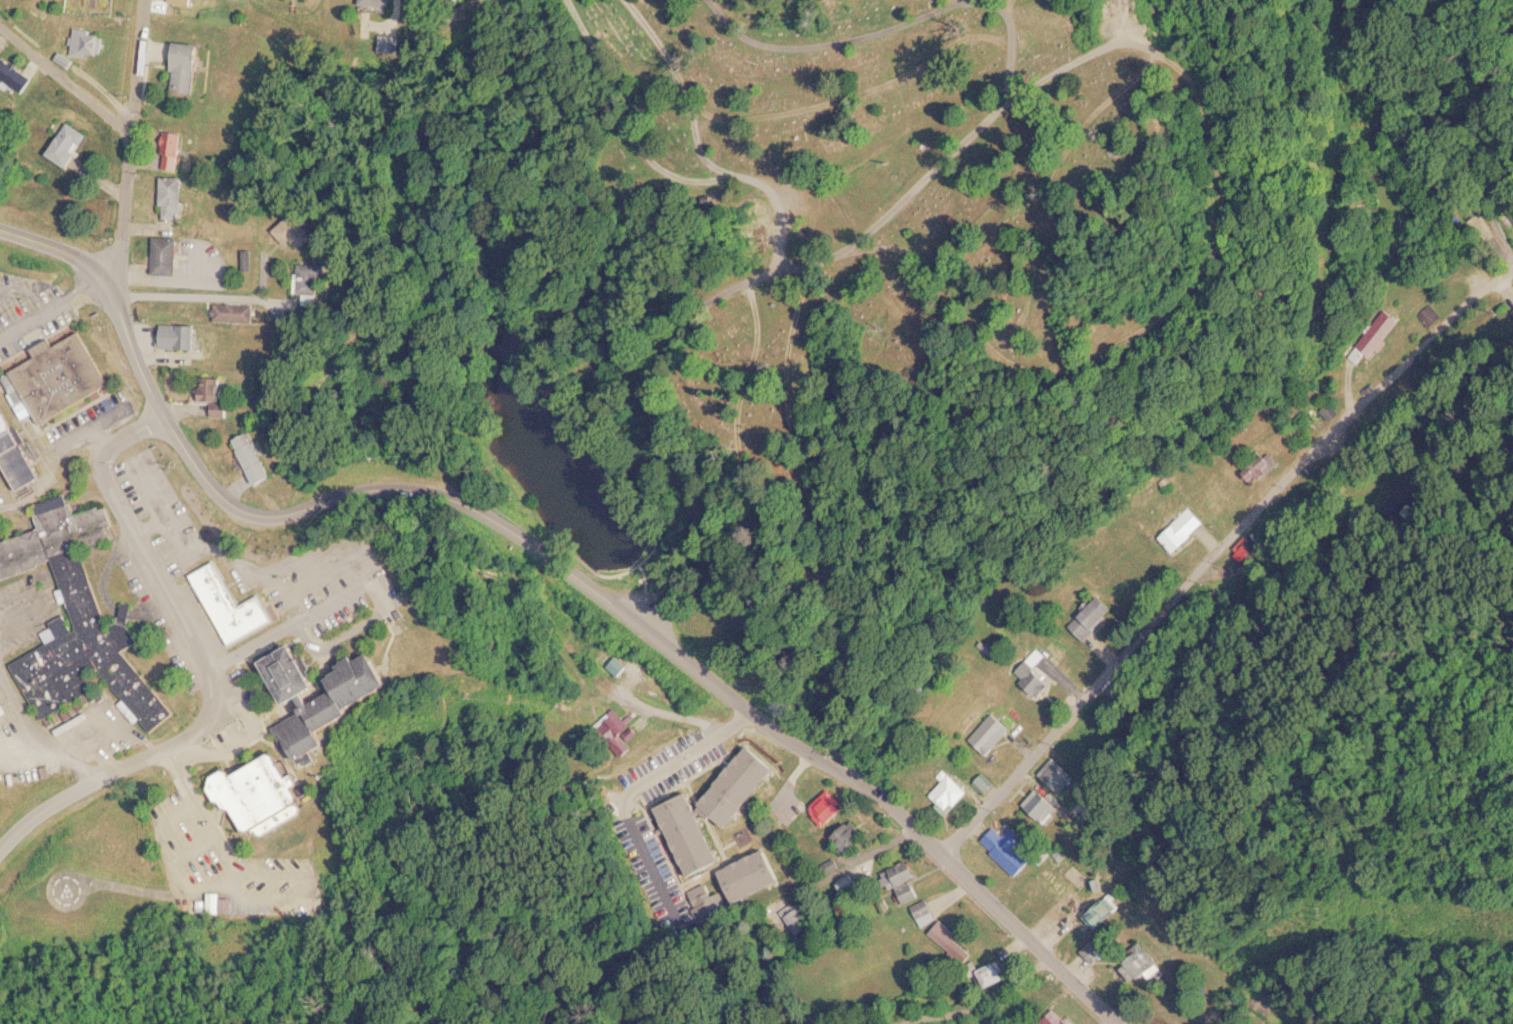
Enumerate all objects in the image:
building: (186, 2)
building: (377, 3)
building: (88, 43)
building: (190, 69)
building: (15, 75)
road: (68, 84)
road: (137, 139)
building: (69, 145)
building: (174, 151)
road: (890, 211)
building: (1512, 211)
road: (241, 215)
building: (296, 232)
road: (52, 248)
building: (166, 256)
building: (313, 283)
park: (889, 286)
road: (51, 306)
building: (238, 314)
building: (1430, 316)
building: (181, 336)
building: (1381, 339)
building: (56, 376)
building: (257, 458)
building: (1263, 469)
building: (1216, 495)
building: (1182, 530)
road: (1213, 563)
road: (600, 593)
building: (232, 606)
building: (1092, 617)
building: (77, 618)
road: (531, 640)
road: (209, 661)
building: (618, 665)
building: (1034, 672)
building: (326, 695)
building: (2, 709)
building: (615, 724)
road: (40, 730)
building: (991, 733)
building: (986, 783)
building: (953, 793)
building: (260, 795)
building: (1041, 805)
building: (829, 807)
building: (716, 809)
building: (849, 836)
building: (1008, 848)
road: (804, 862)
building: (750, 876)
building: (903, 881)
building: (1057, 882)
building: (848, 884)
building: (214, 902)
building: (923, 912)
building: (1102, 912)
building: (798, 919)
building: (950, 942)
building: (1093, 949)
building: (1137, 969)
building: (994, 974)
road: (980, 1000)

